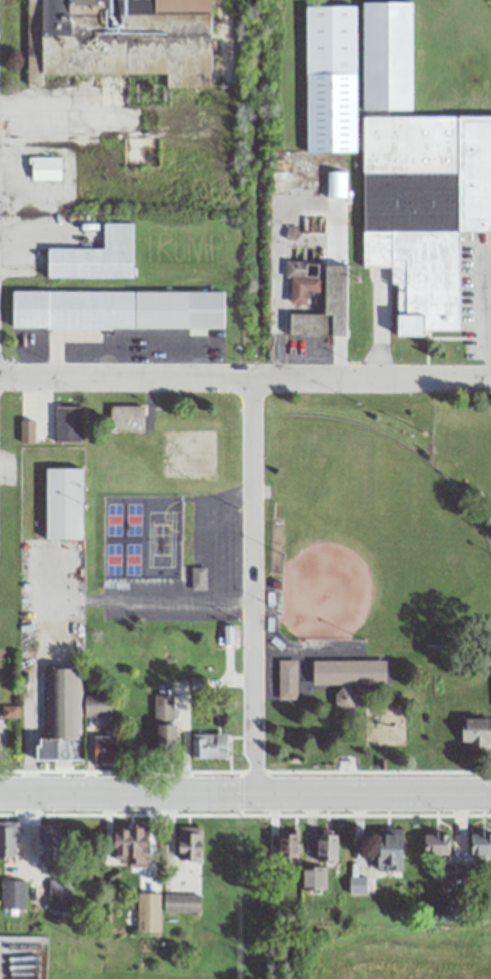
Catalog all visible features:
building: (128, 40)
building: (355, 69)
building: (45, 167)
building: (424, 210)
road: (33, 232)
building: (96, 256)
building: (302, 280)
building: (118, 309)
building: (326, 309)
road: (489, 316)
road: (245, 380)
building: (126, 418)
building: (67, 424)
park: (465, 451)
building: (64, 503)
park: (375, 542)
park: (370, 568)
road: (252, 583)
road: (53, 594)
building: (348, 677)
building: (286, 680)
building: (97, 705)
building: (63, 717)
building: (164, 726)
building: (476, 733)
building: (209, 746)
building: (107, 751)
road: (245, 787)
building: (7, 841)
building: (190, 842)
building: (480, 842)
building: (50, 843)
building: (437, 843)
building: (289, 844)
building: (131, 845)
building: (328, 847)
building: (390, 847)
building: (459, 870)
building: (13, 894)
building: (58, 895)
building: (181, 902)
building: (148, 912)

